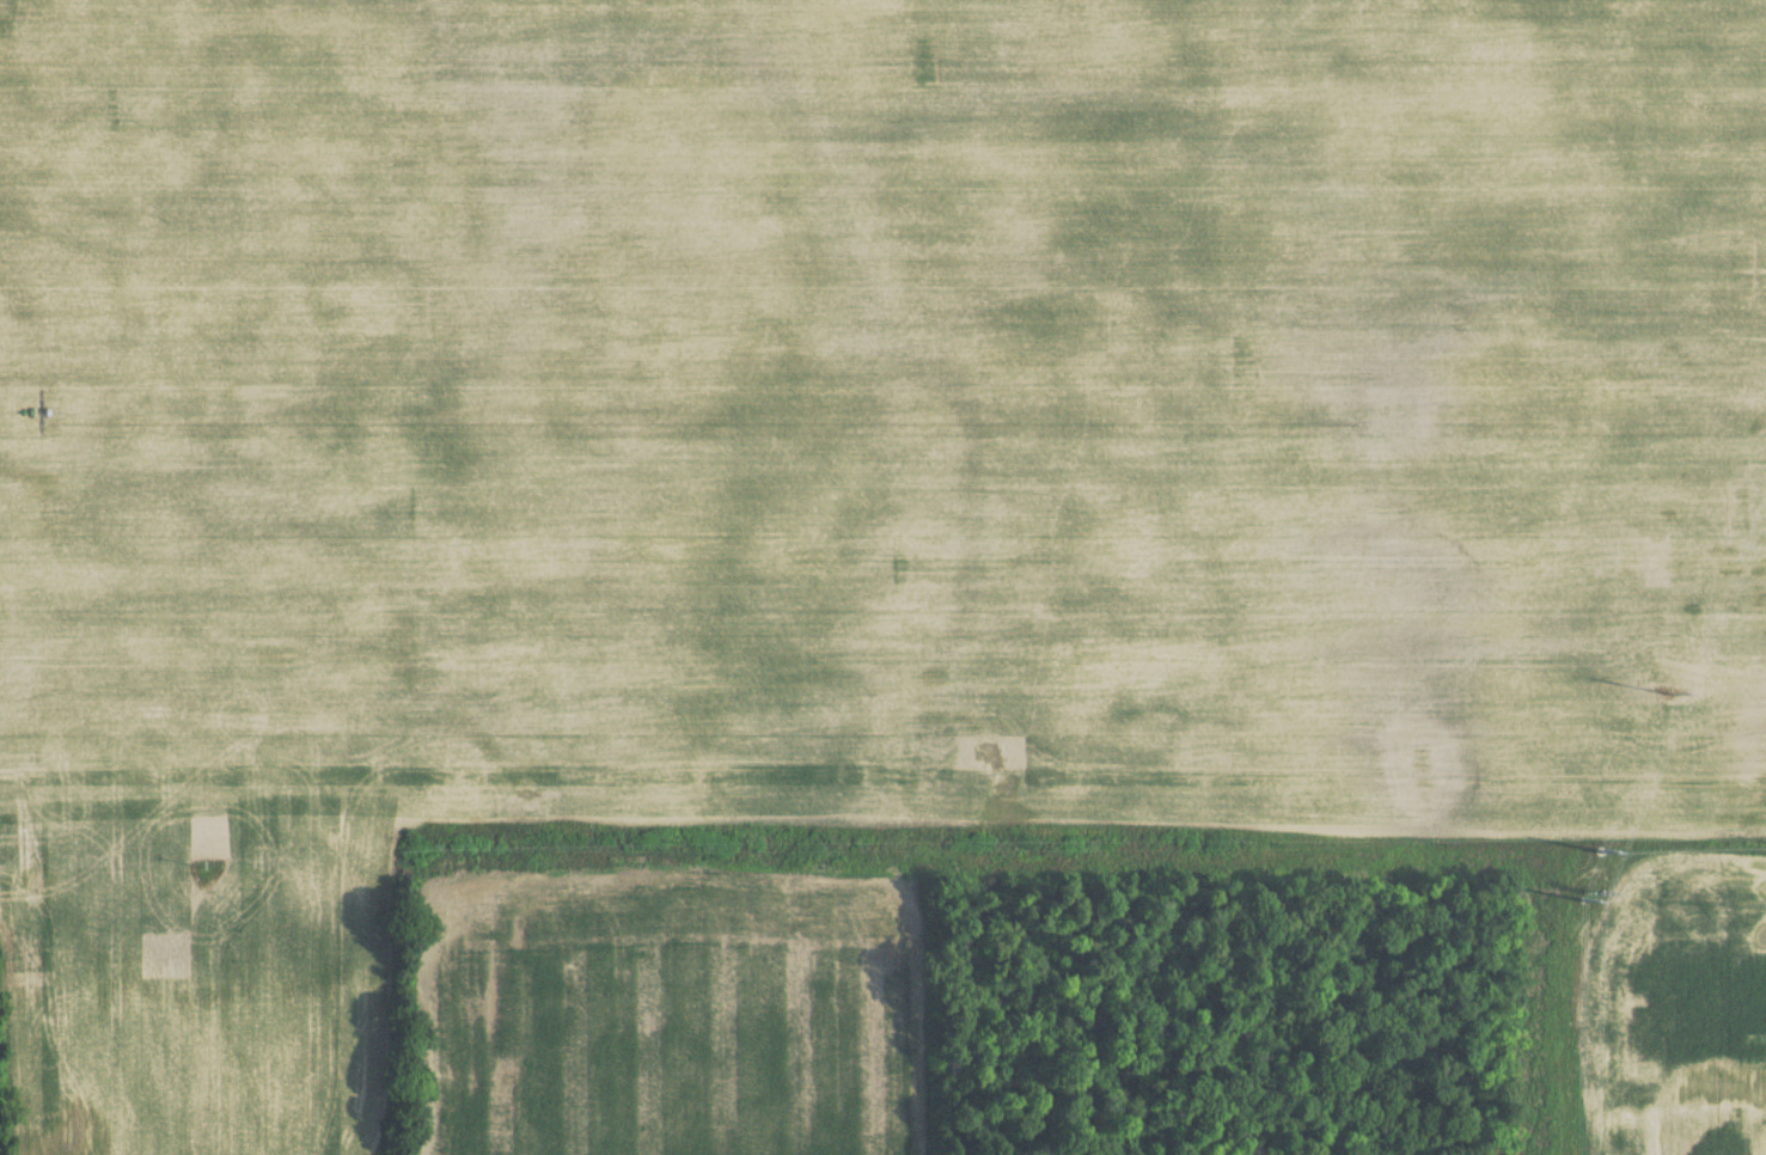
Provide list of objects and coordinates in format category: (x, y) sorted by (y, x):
power tower: (1607, 851)
power tower: (1590, 898)

